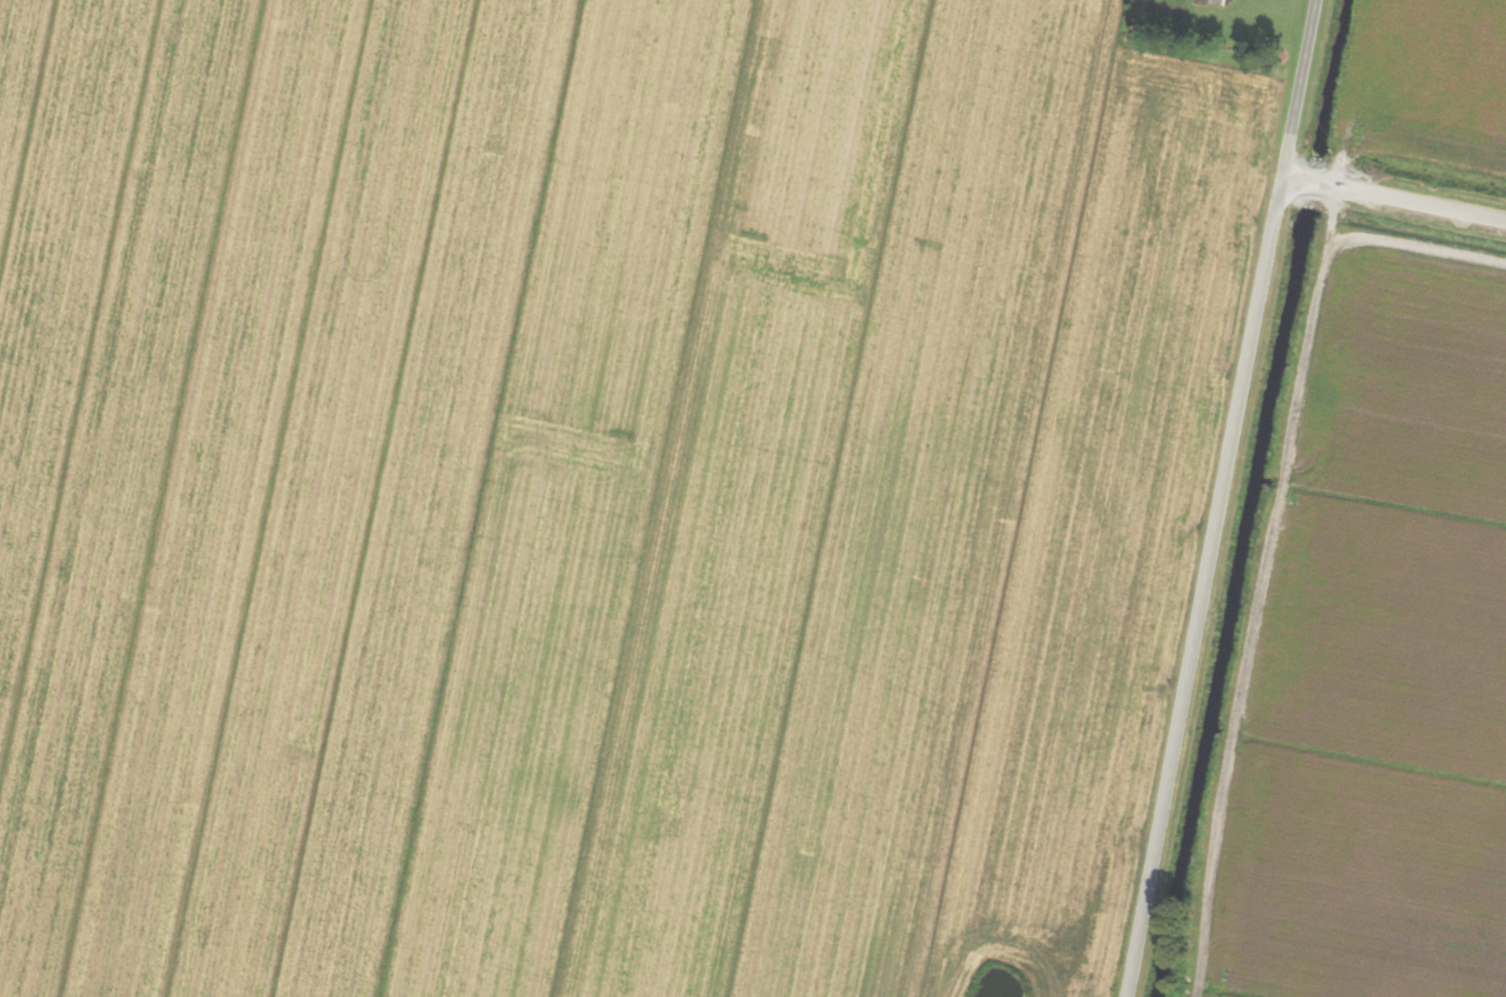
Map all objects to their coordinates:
building: (1222, 3)
road: (1394, 197)
road: (1222, 498)

